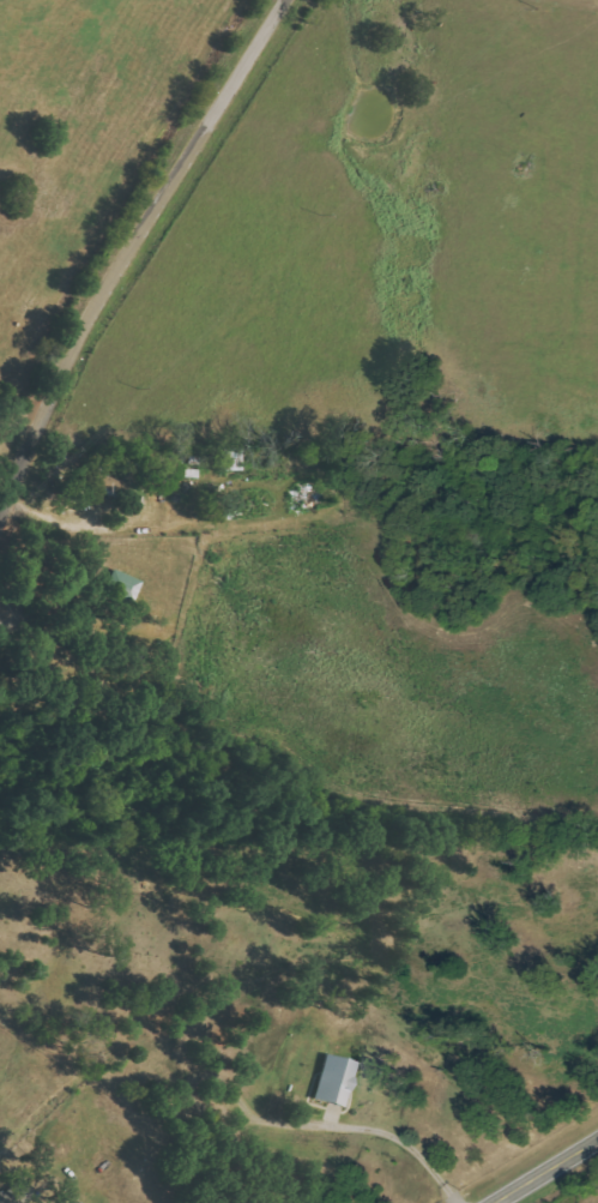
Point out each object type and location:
road: (123, 247)
building: (122, 585)
building: (333, 1081)
road: (406, 1139)
road: (546, 1172)
building: (17, 1192)

